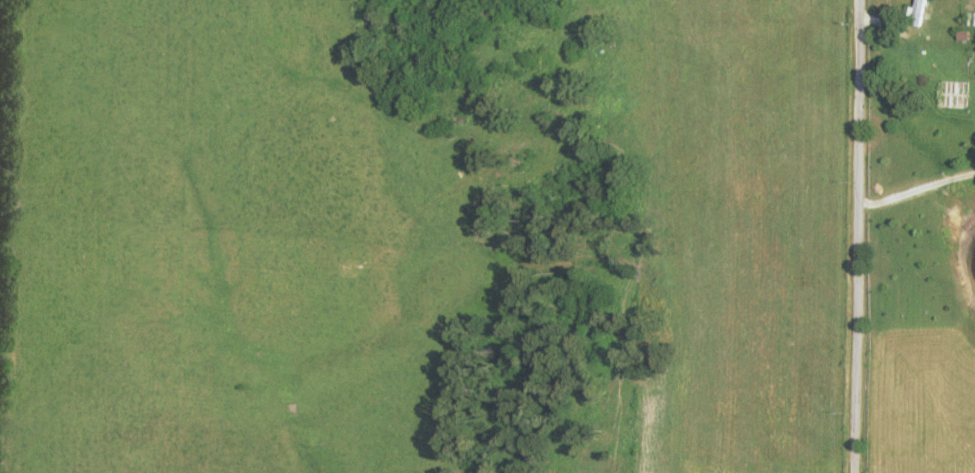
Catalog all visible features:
road: (913, 193)
road: (849, 236)

